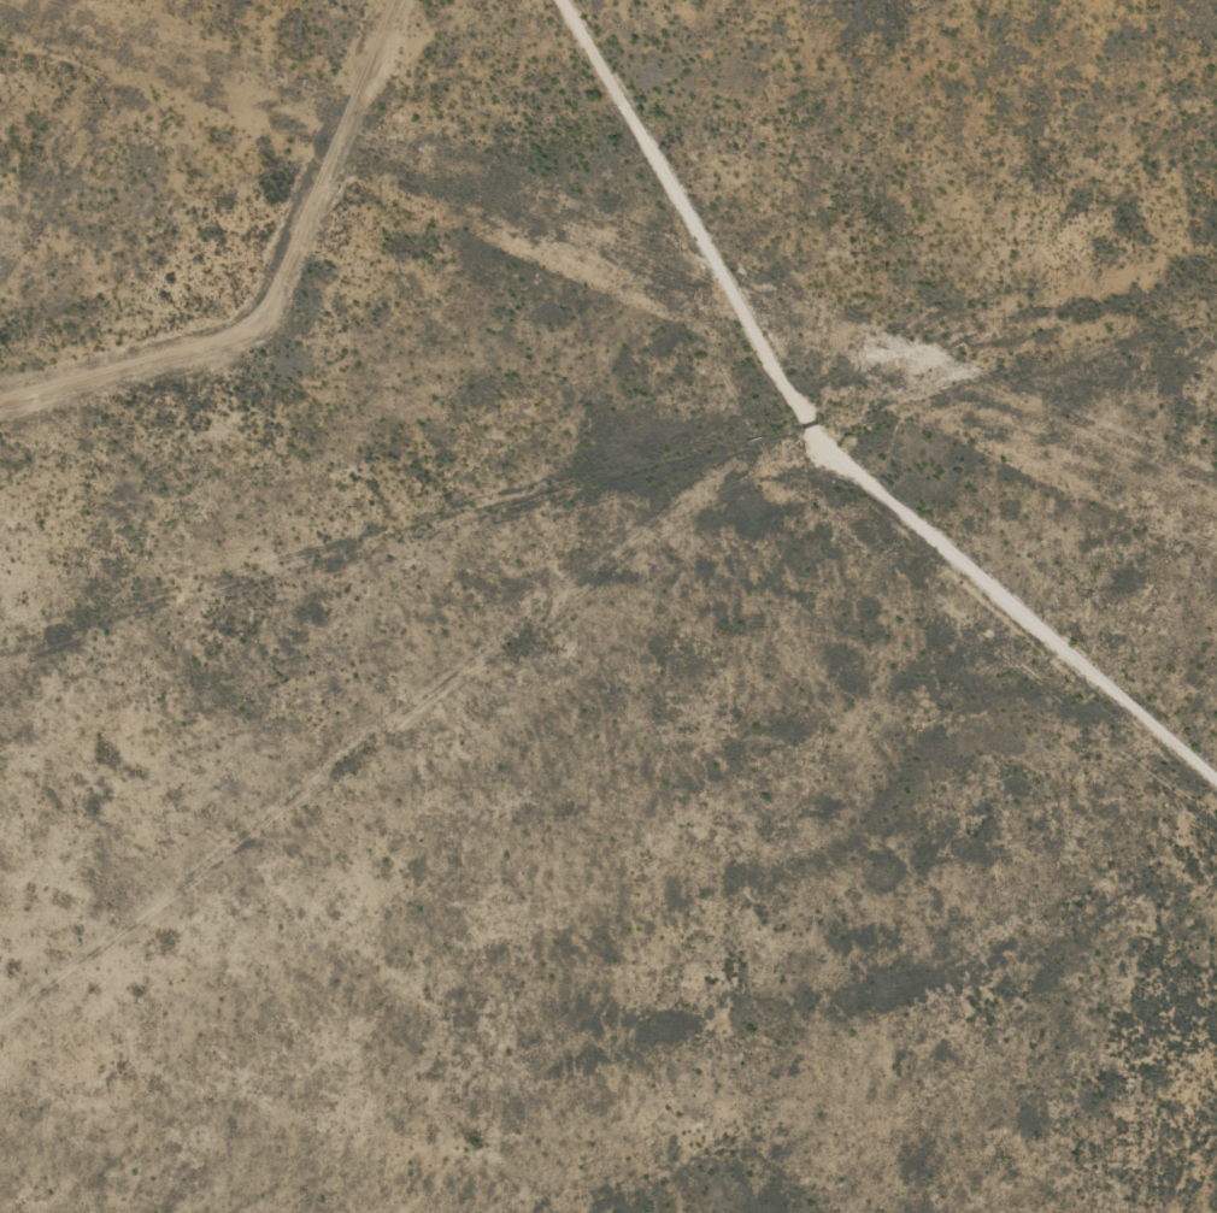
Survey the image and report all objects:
power tower: (102, 108)

